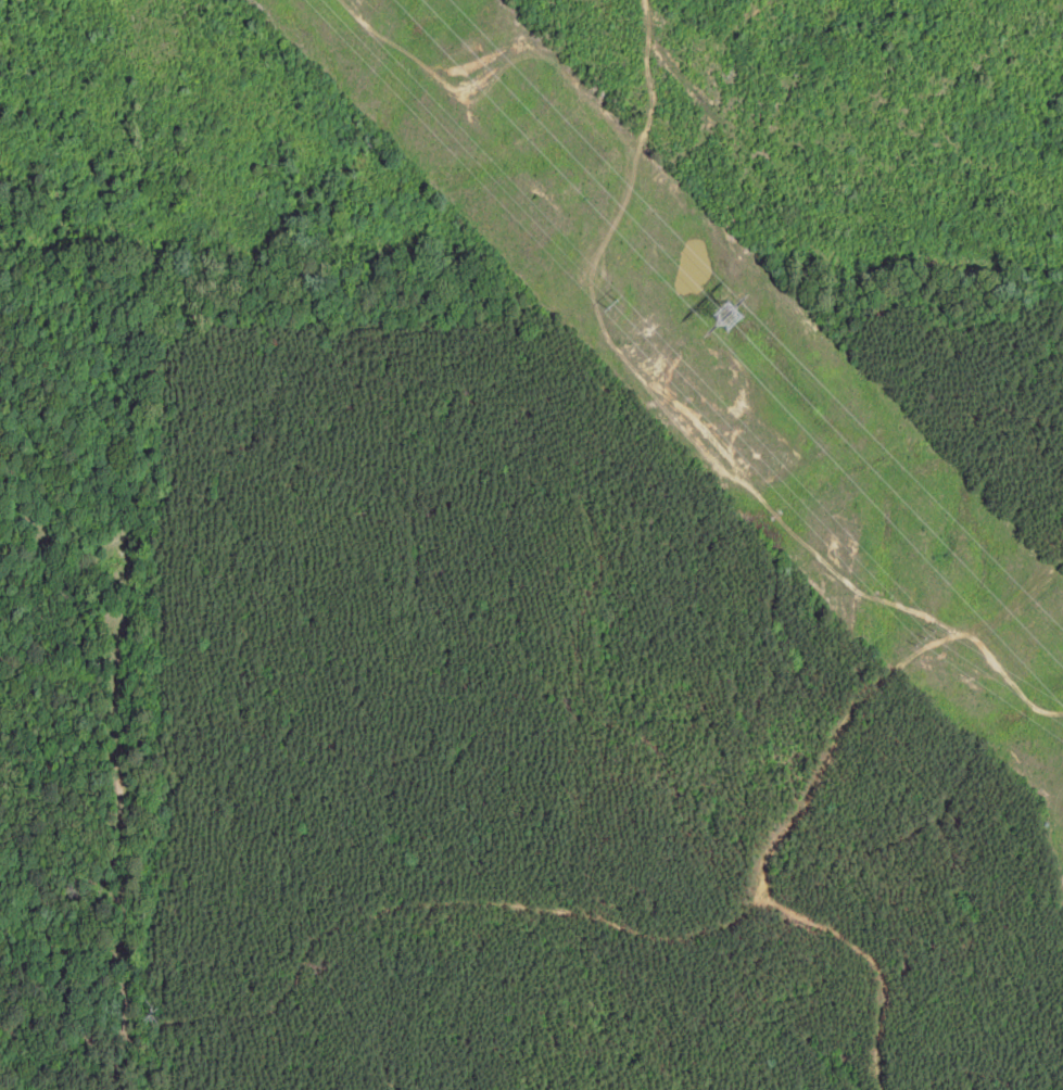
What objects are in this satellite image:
power tower: (616, 304)
power tower: (717, 316)
power tower: (928, 639)

